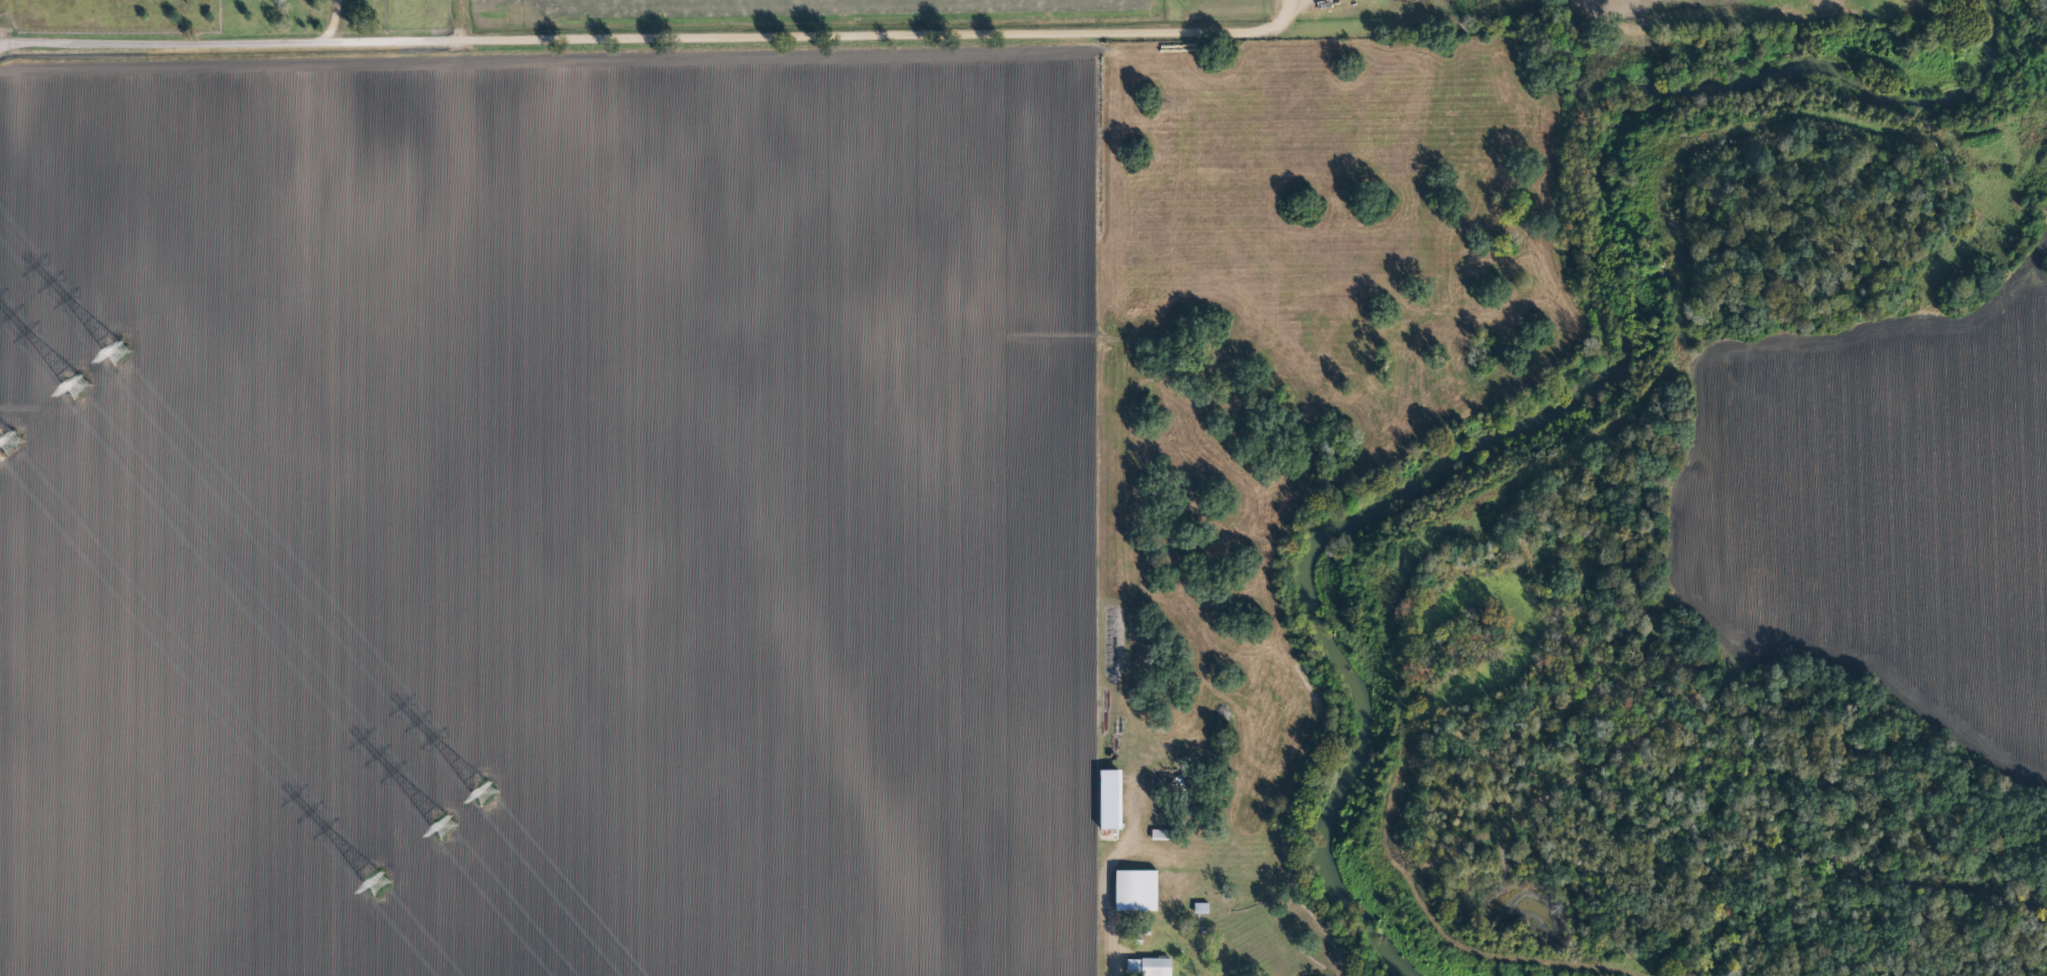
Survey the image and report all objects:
road: (659, 34)
power tower: (118, 350)
river: (1595, 368)
power tower: (77, 387)
power tower: (13, 444)
power tower: (484, 792)
building: (1107, 800)
power tower: (444, 827)
power tower: (376, 883)
building: (1133, 891)
building: (1199, 909)
building: (1147, 967)

